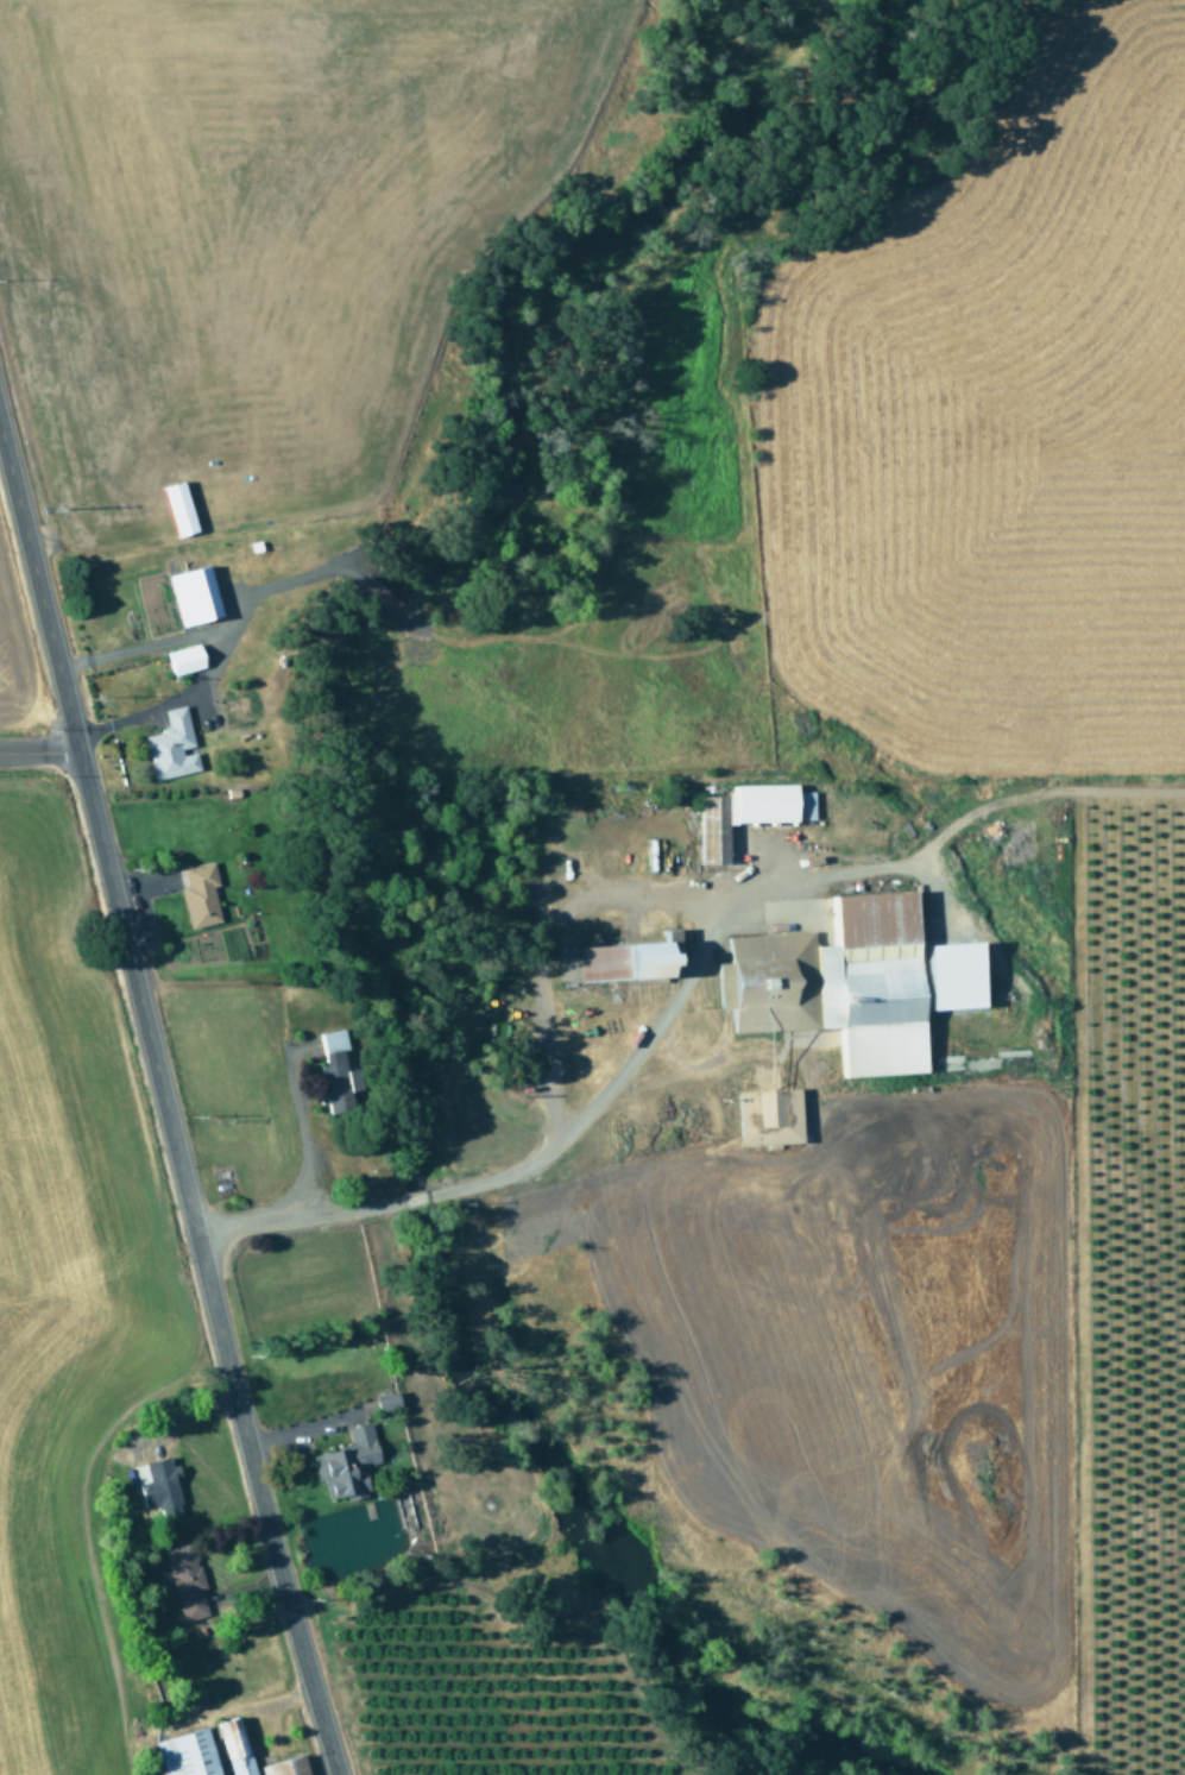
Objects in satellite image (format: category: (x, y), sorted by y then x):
building: (176, 510)
building: (193, 596)
building: (384, 600)
building: (183, 660)
building: (170, 747)
road: (37, 754)
building: (744, 813)
crop: (933, 885)
building: (198, 895)
building: (622, 959)
building: (836, 983)
building: (334, 1072)
road: (160, 1112)
building: (767, 1118)
crop: (97, 1380)
building: (345, 1464)
building: (157, 1485)
building: (183, 1580)
crop: (500, 1692)
building: (232, 1749)
building: (185, 1754)
building: (284, 1767)

